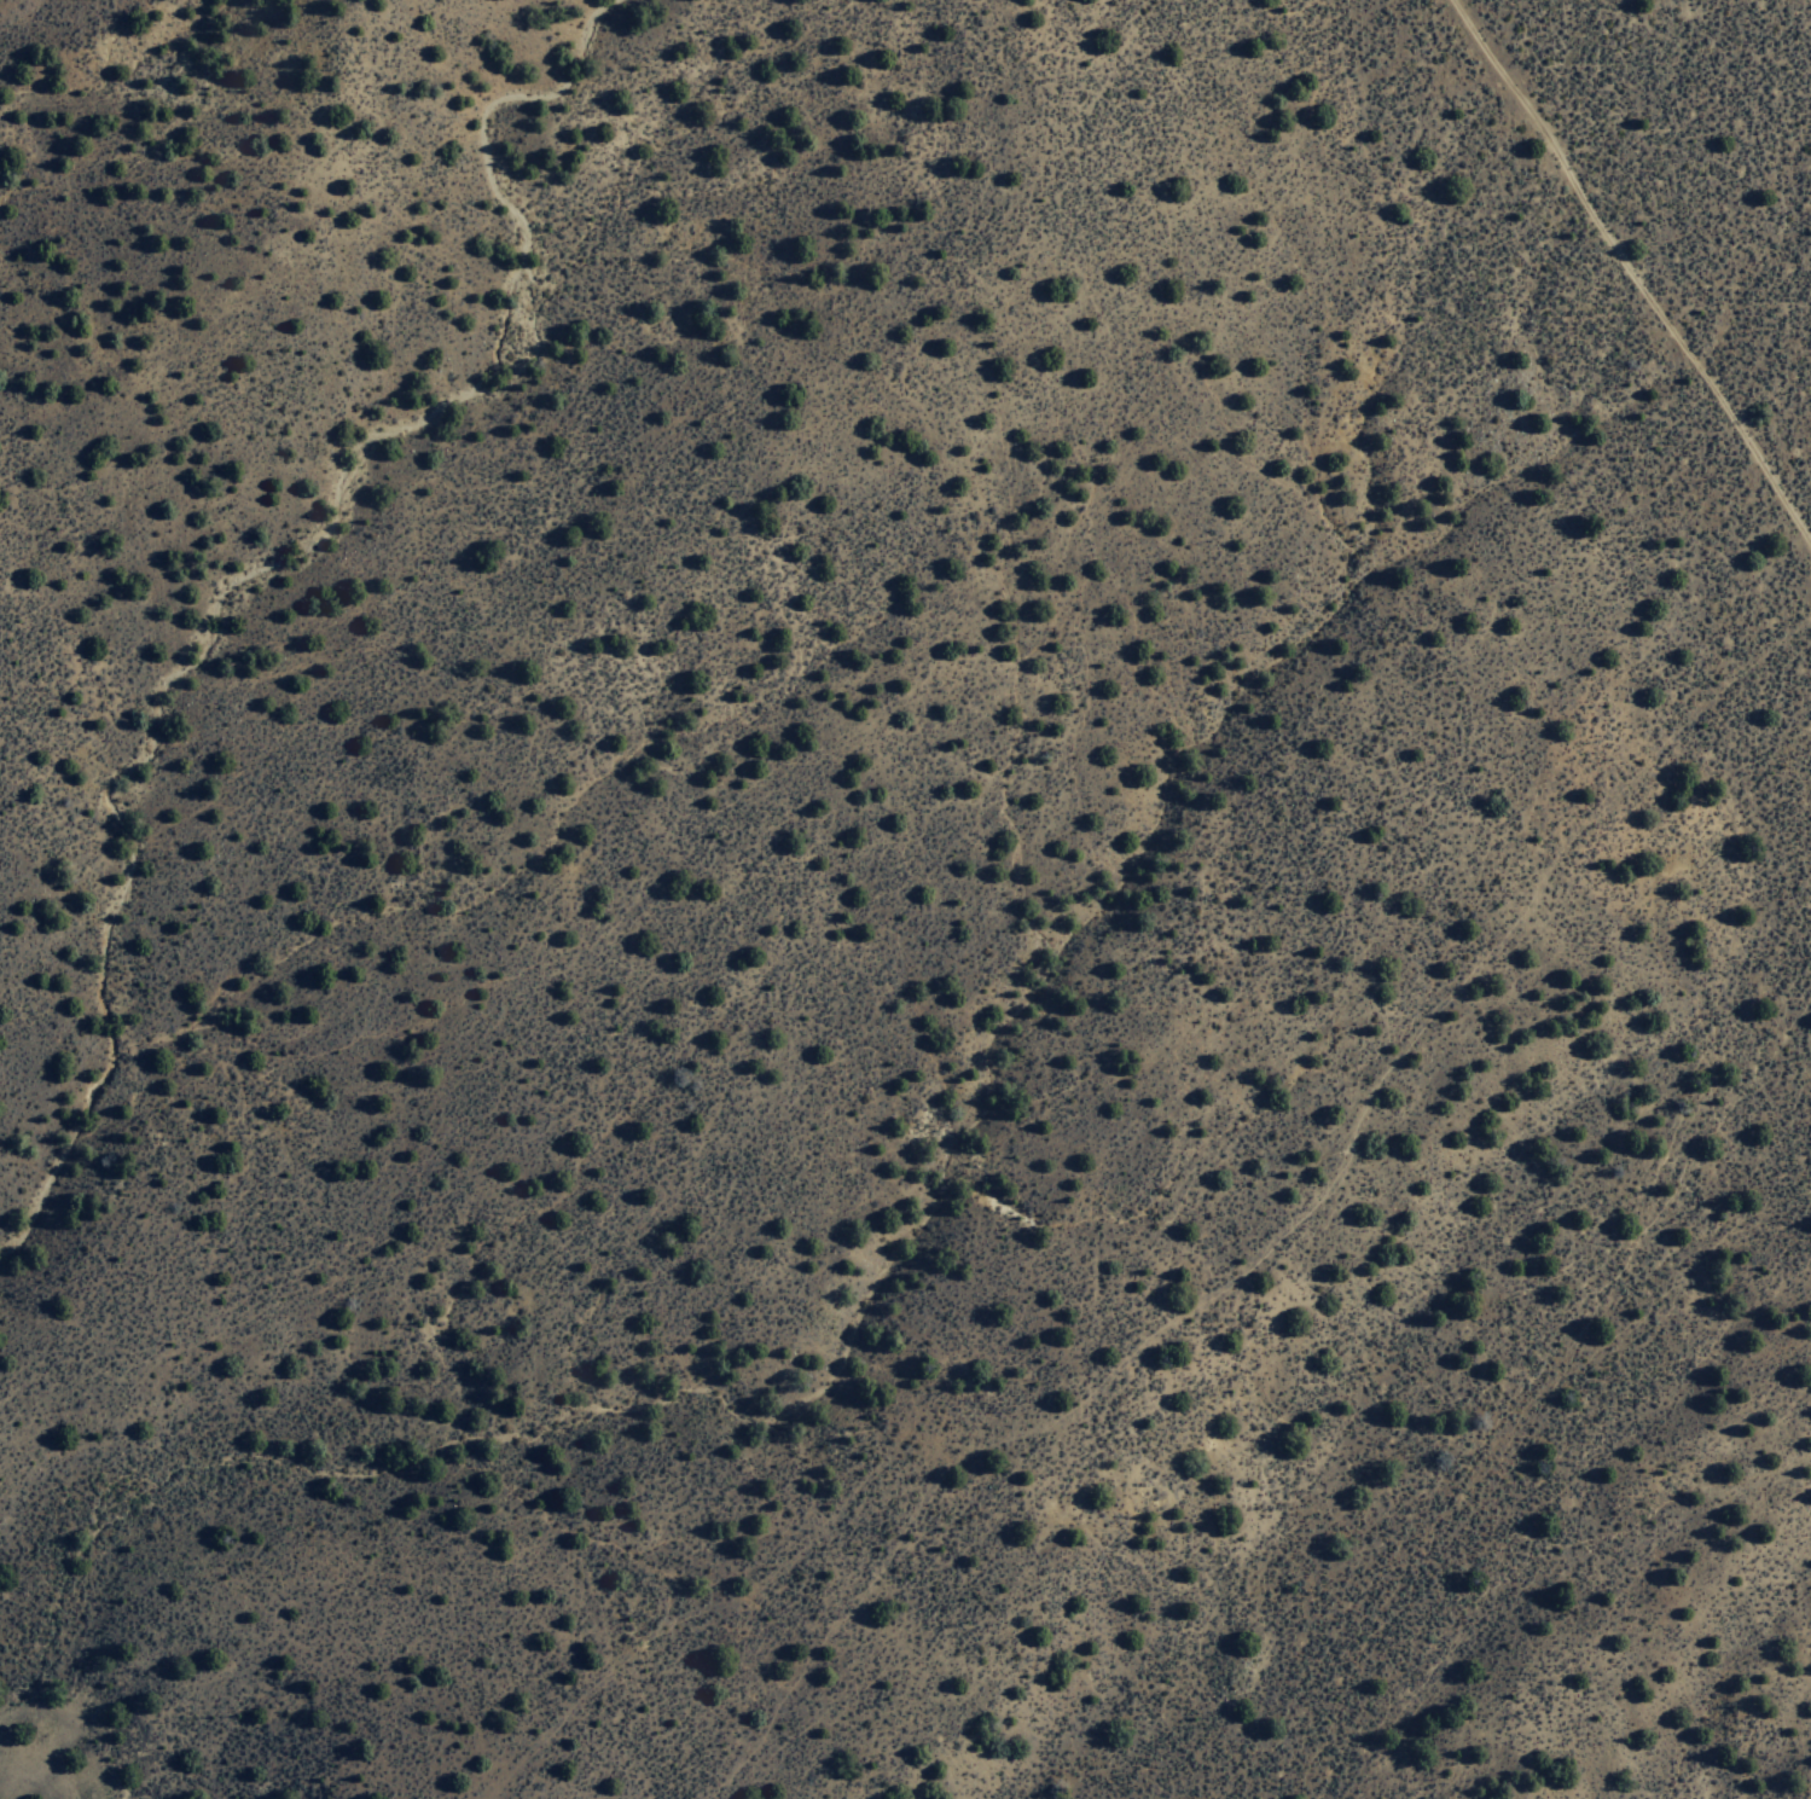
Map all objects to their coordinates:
road: (1642, 250)

